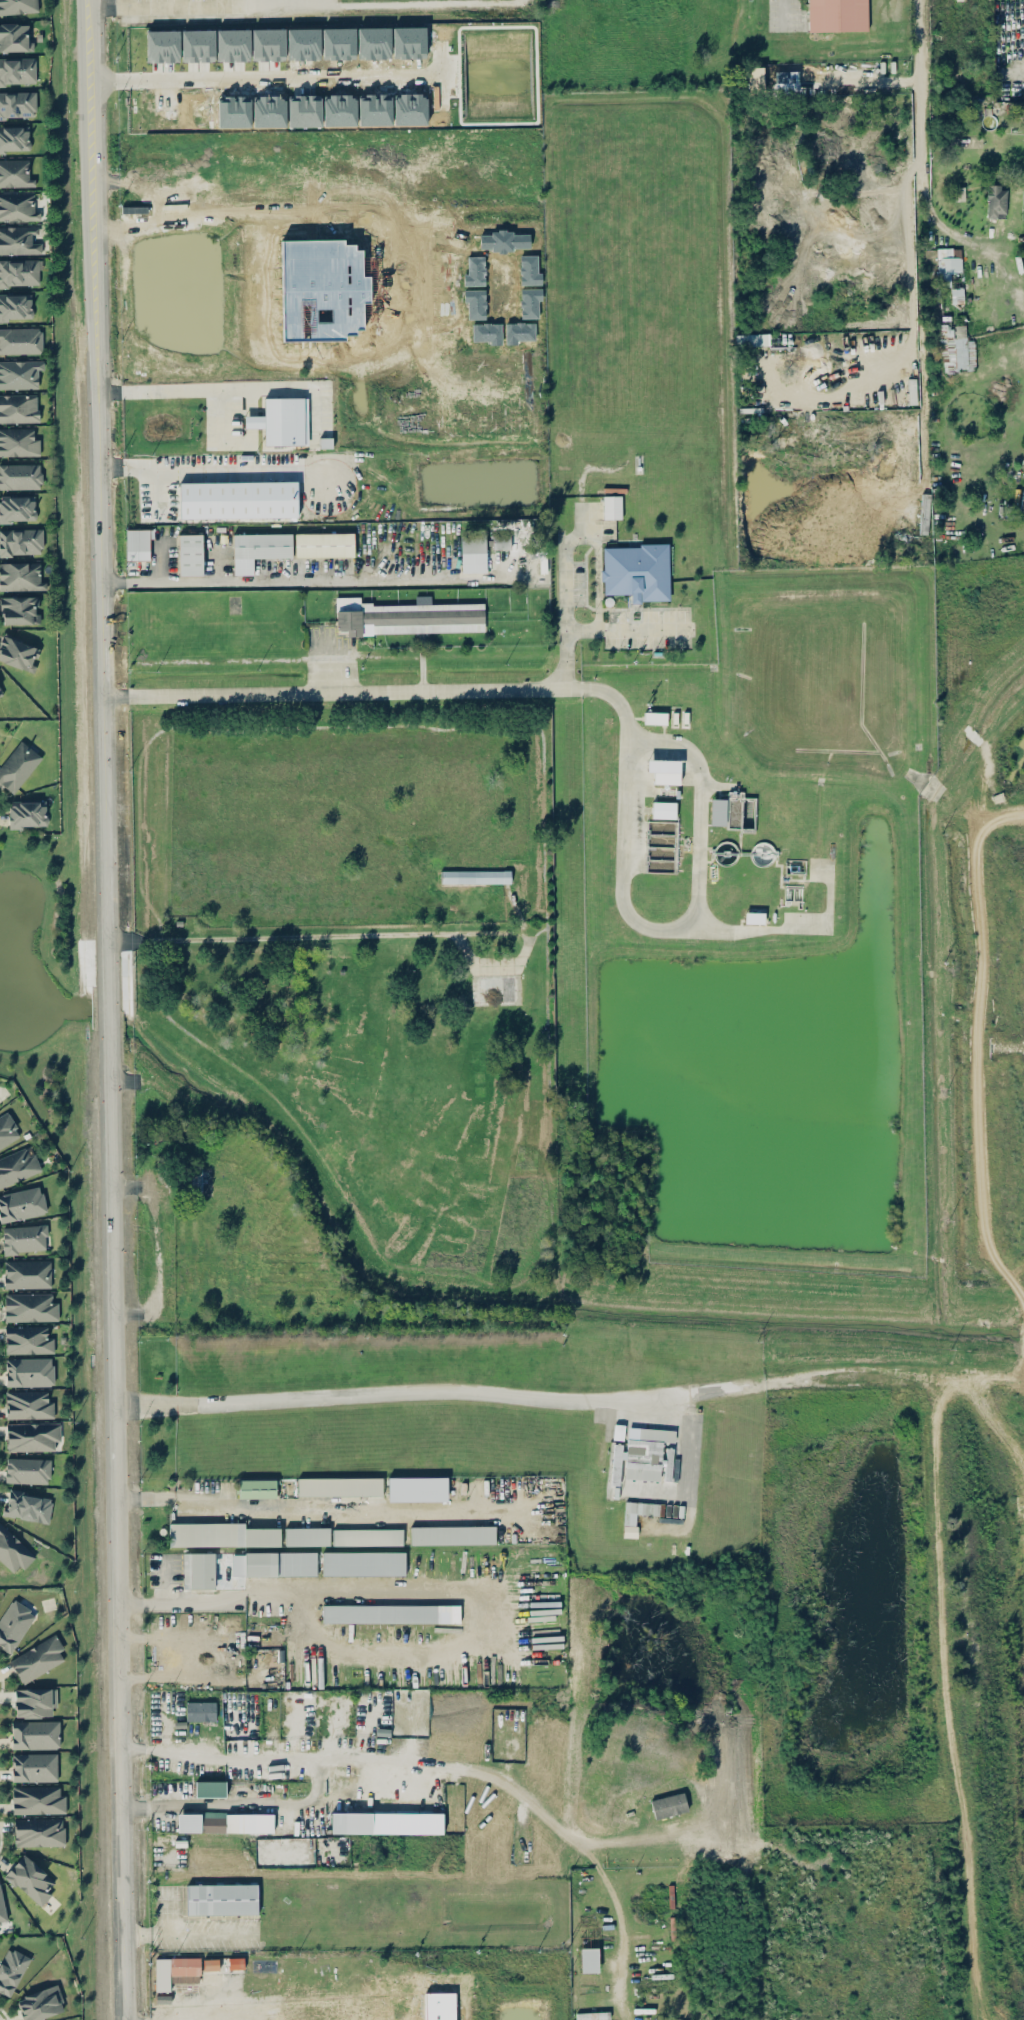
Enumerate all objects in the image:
road: (121, 3)
building: (17, 6)
road: (175, 7)
road: (784, 11)
building: (837, 15)
building: (15, 36)
building: (197, 44)
building: (232, 44)
building: (268, 44)
building: (162, 45)
building: (17, 70)
road: (262, 79)
building: (786, 82)
building: (17, 104)
building: (304, 110)
building: (14, 138)
road: (923, 160)
building: (15, 172)
building: (996, 201)
building: (18, 205)
building: (134, 209)
building: (18, 239)
building: (504, 240)
building: (948, 264)
building: (529, 270)
building: (474, 271)
building: (19, 272)
building: (957, 295)
building: (530, 302)
building: (475, 303)
building: (15, 306)
building: (519, 331)
building: (487, 332)
building: (20, 339)
building: (956, 348)
building: (20, 373)
road: (186, 389)
building: (18, 407)
building: (282, 421)
building: (19, 440)
building: (20, 475)
building: (238, 499)
building: (612, 506)
building: (17, 508)
building: (21, 541)
building: (501, 541)
building: (137, 544)
building: (324, 544)
building: (258, 549)
building: (473, 553)
building: (190, 554)
building: (636, 571)
building: (20, 575)
road: (298, 579)
building: (19, 609)
building: (408, 616)
road: (643, 627)
building: (18, 652)
road: (333, 691)
building: (0, 692)
building: (0, 694)
building: (655, 717)
building: (17, 764)
building: (664, 771)
road: (626, 778)
building: (663, 809)
building: (26, 813)
building: (742, 816)
building: (475, 876)
building: (753, 917)
road: (790, 929)
road: (330, 934)
road: (106, 1010)
landfill: (982, 1064)
building: (7, 1129)
building: (17, 1165)
building: (196, 1178)
building: (22, 1203)
building: (23, 1238)
building: (26, 1273)
building: (29, 1306)
building: (27, 1339)
building: (29, 1370)
road: (513, 1395)
building: (28, 1403)
building: (32, 1435)
building: (642, 1457)
building: (27, 1469)
building: (339, 1486)
building: (257, 1488)
building: (417, 1488)
road: (312, 1504)
building: (27, 1505)
building: (630, 1520)
building: (206, 1533)
building: (453, 1534)
building: (262, 1536)
building: (307, 1536)
building: (367, 1536)
building: (13, 1549)
building: (274, 1563)
building: (363, 1563)
building: (198, 1570)
road: (167, 1579)
road: (181, 1599)
building: (391, 1613)
road: (485, 1617)
building: (13, 1623)
building: (37, 1658)
building: (35, 1701)
building: (200, 1710)
building: (34, 1733)
building: (33, 1766)
road: (456, 1766)
building: (210, 1788)
building: (37, 1799)
road: (239, 1803)
building: (668, 1805)
building: (189, 1822)
building: (238, 1822)
building: (351, 1822)
building: (38, 1831)
building: (30, 1878)
building: (222, 1898)
building: (2, 1909)
building: (589, 1959)
building: (236, 1962)
building: (211, 1963)
building: (11, 1968)
building: (176, 1971)
building: (40, 2002)
building: (439, 2006)
building: (592, 2015)

